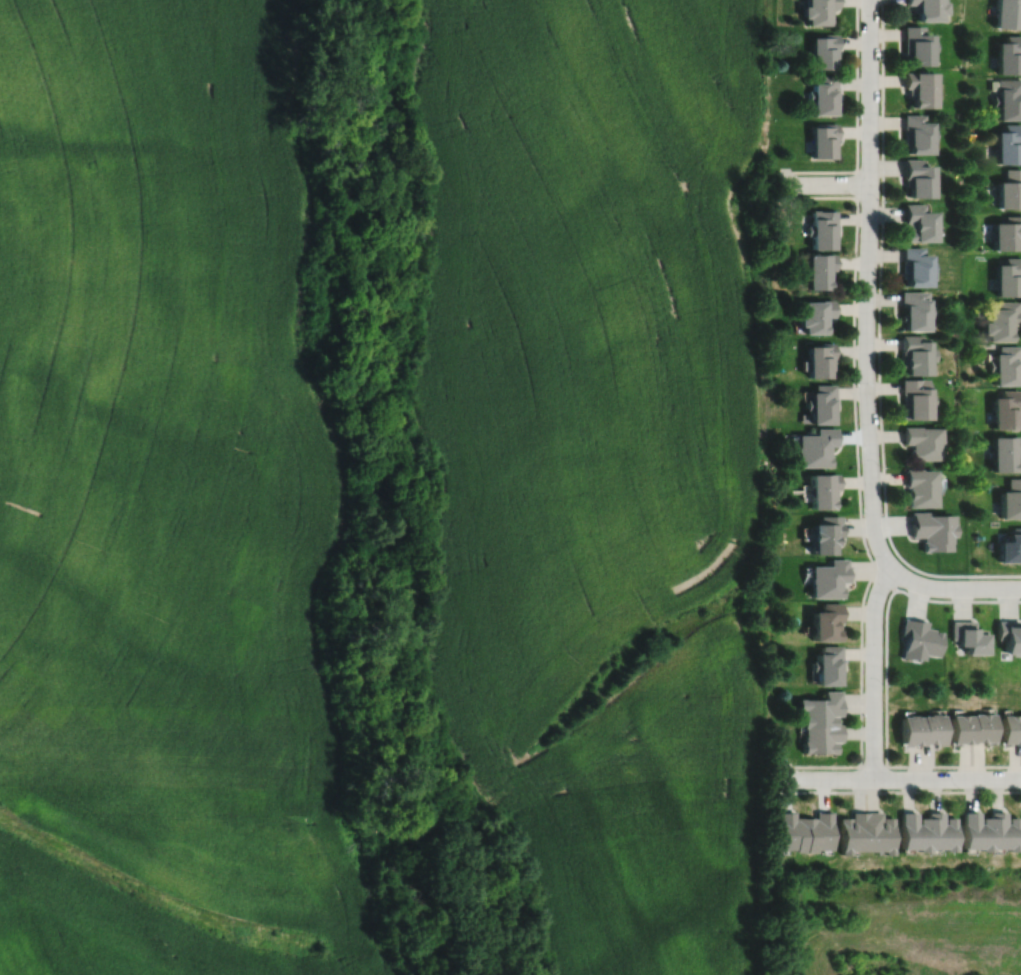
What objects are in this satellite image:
building: (926, 9)
building: (817, 11)
building: (1008, 14)
street lamp: (879, 22)
building: (916, 46)
building: (822, 51)
building: (1009, 55)
building: (919, 89)
building: (823, 95)
building: (1009, 100)
street lamp: (859, 118)
road: (857, 124)
building: (917, 134)
building: (823, 141)
building: (1009, 145)
building: (917, 179)
road: (823, 184)
road: (857, 184)
building: (1010, 191)
street lamp: (880, 201)
building: (918, 224)
building: (821, 231)
building: (1007, 235)
building: (916, 268)
building: (819, 272)
building: (1009, 279)
road: (867, 286)
street lamp: (857, 298)
building: (915, 312)
building: (815, 317)
building: (1003, 323)
road: (879, 343)
building: (915, 357)
building: (819, 362)
building: (1007, 367)
street lamp: (857, 385)
building: (915, 401)
building: (820, 407)
building: (1005, 410)
building: (921, 443)
building: (815, 447)
building: (1003, 451)
crop: (598, 453)
street lamp: (881, 466)
road: (858, 485)
building: (918, 486)
building: (822, 489)
building: (1010, 498)
crop: (162, 509)
building: (930, 529)
building: (825, 533)
building: (1009, 546)
street lamp: (872, 555)
building: (828, 578)
street lamp: (969, 578)
road: (884, 579)
road: (954, 588)
building: (826, 621)
building: (967, 636)
building: (1009, 636)
building: (918, 640)
building: (827, 665)
road: (874, 670)
road: (886, 679)
street lamp: (883, 685)
building: (821, 707)
building: (981, 728)
building: (932, 729)
building: (959, 729)
building: (1010, 729)
building: (911, 730)
building: (820, 737)
road: (874, 766)
street lamp: (778, 768)
street lamp: (857, 768)
road: (899, 779)
street lamp: (960, 788)
road: (898, 791)
building: (791, 832)
building: (819, 832)
building: (974, 832)
building: (1002, 832)
building: (853, 833)
building: (879, 833)
building: (914, 833)
building: (941, 833)

